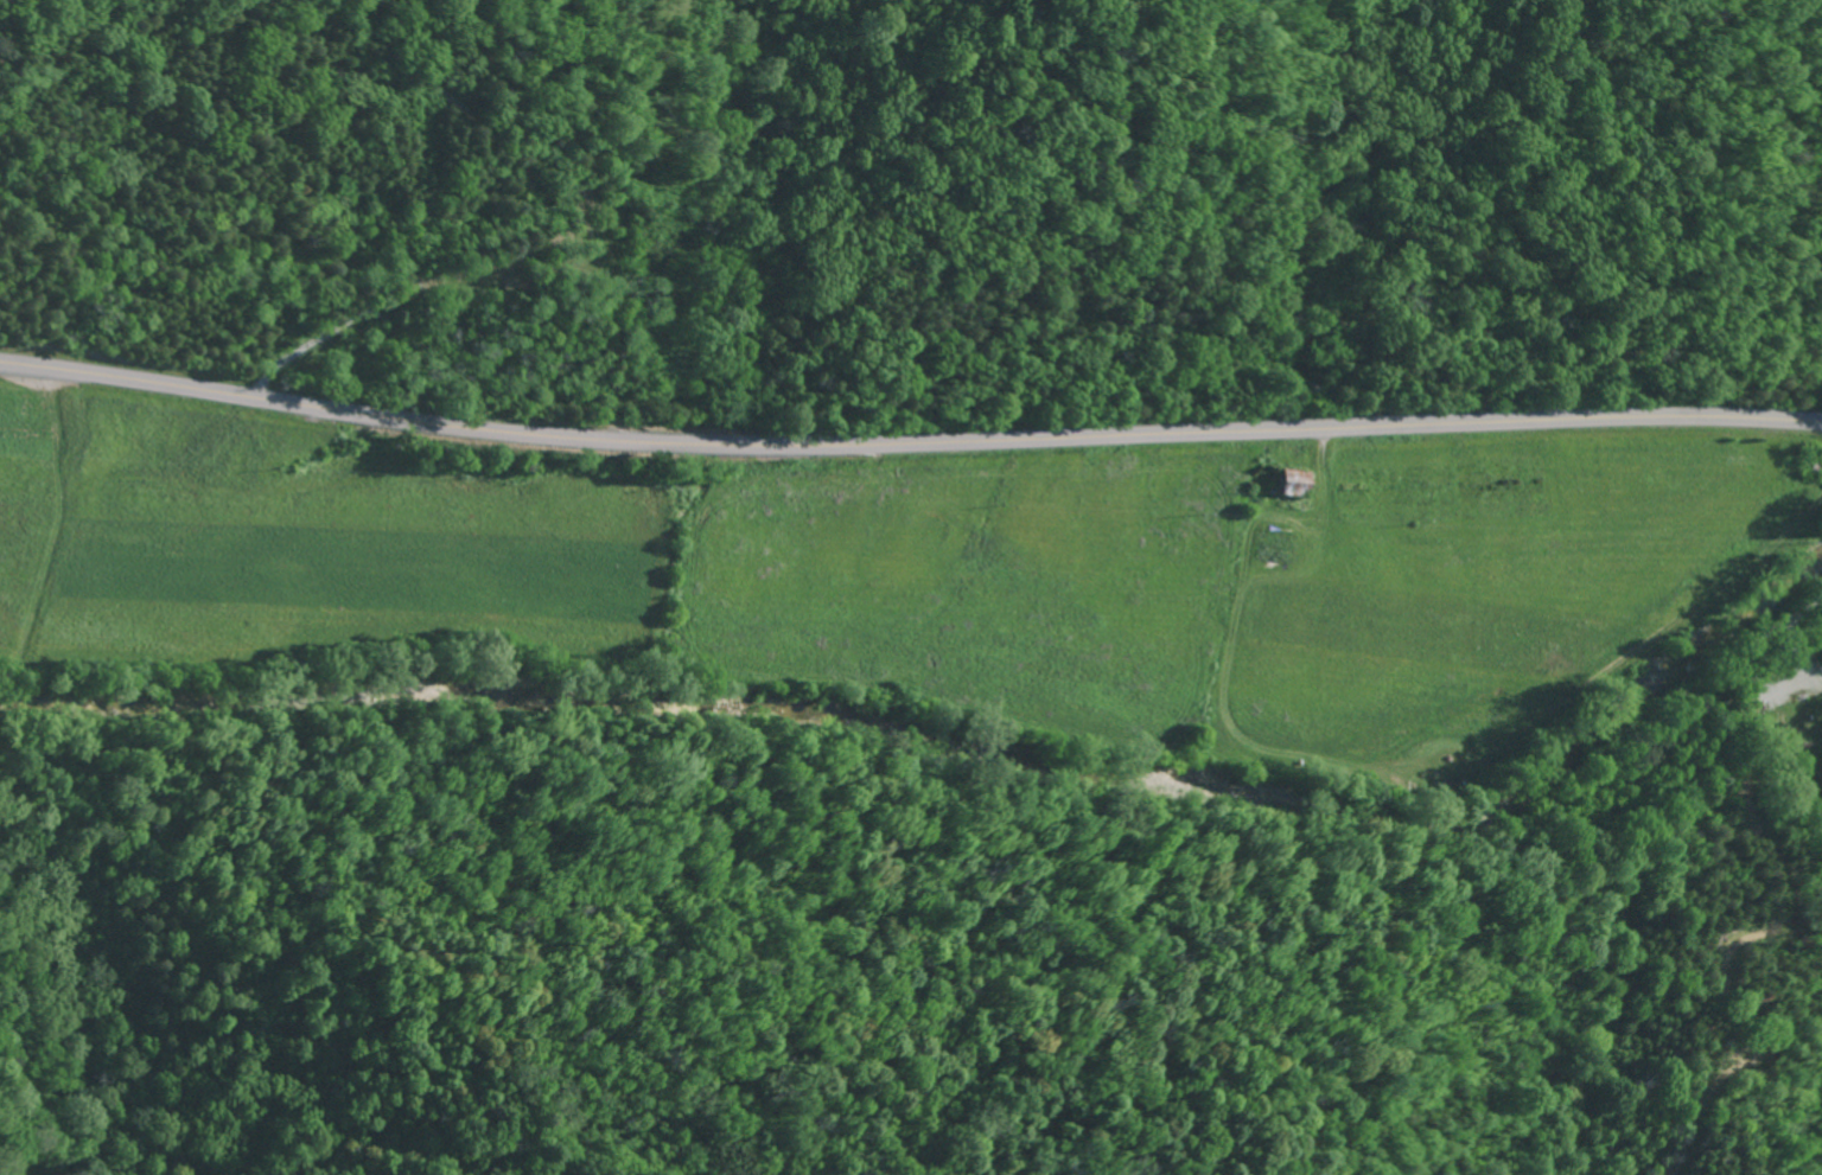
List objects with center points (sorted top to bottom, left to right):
road: (907, 445)

